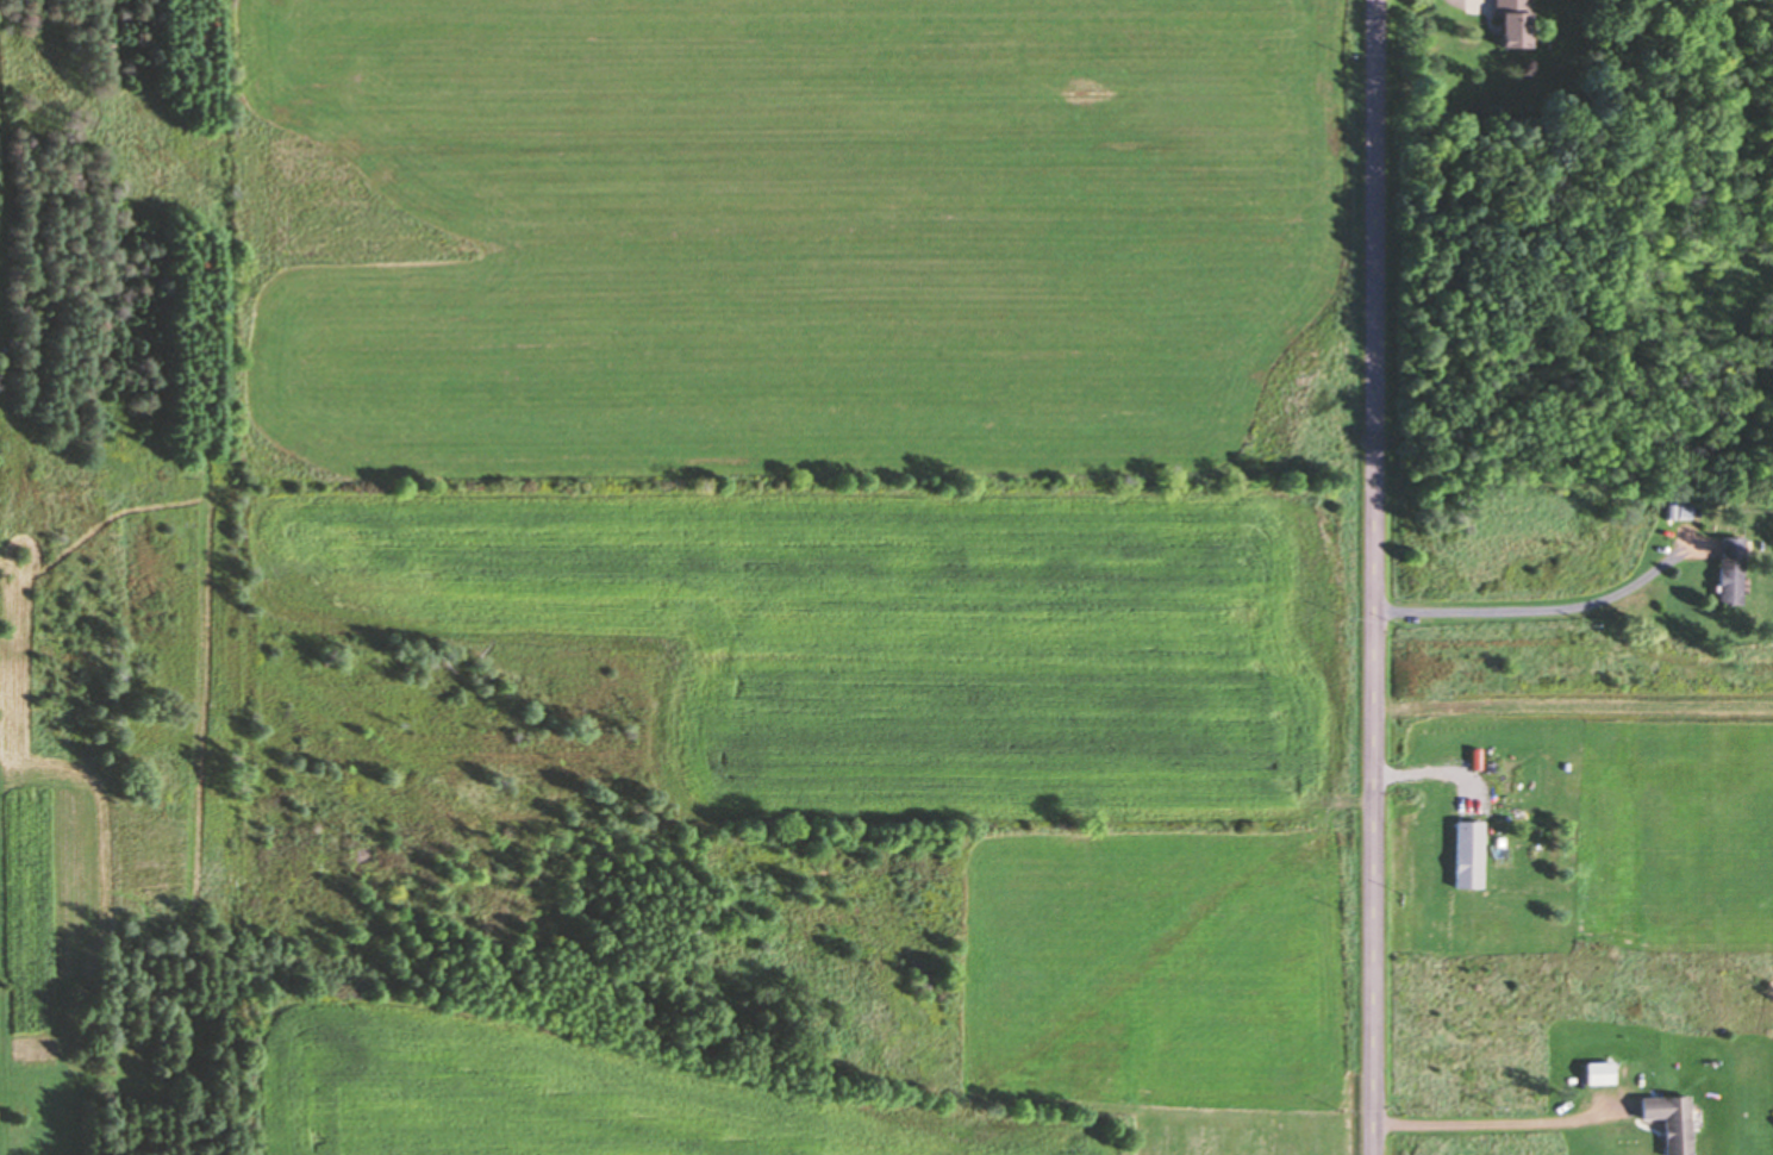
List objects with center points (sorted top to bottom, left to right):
building: (1506, 23)
building: (1727, 568)
road: (1382, 577)
building: (1463, 854)
building: (1594, 1072)
building: (1665, 1120)

